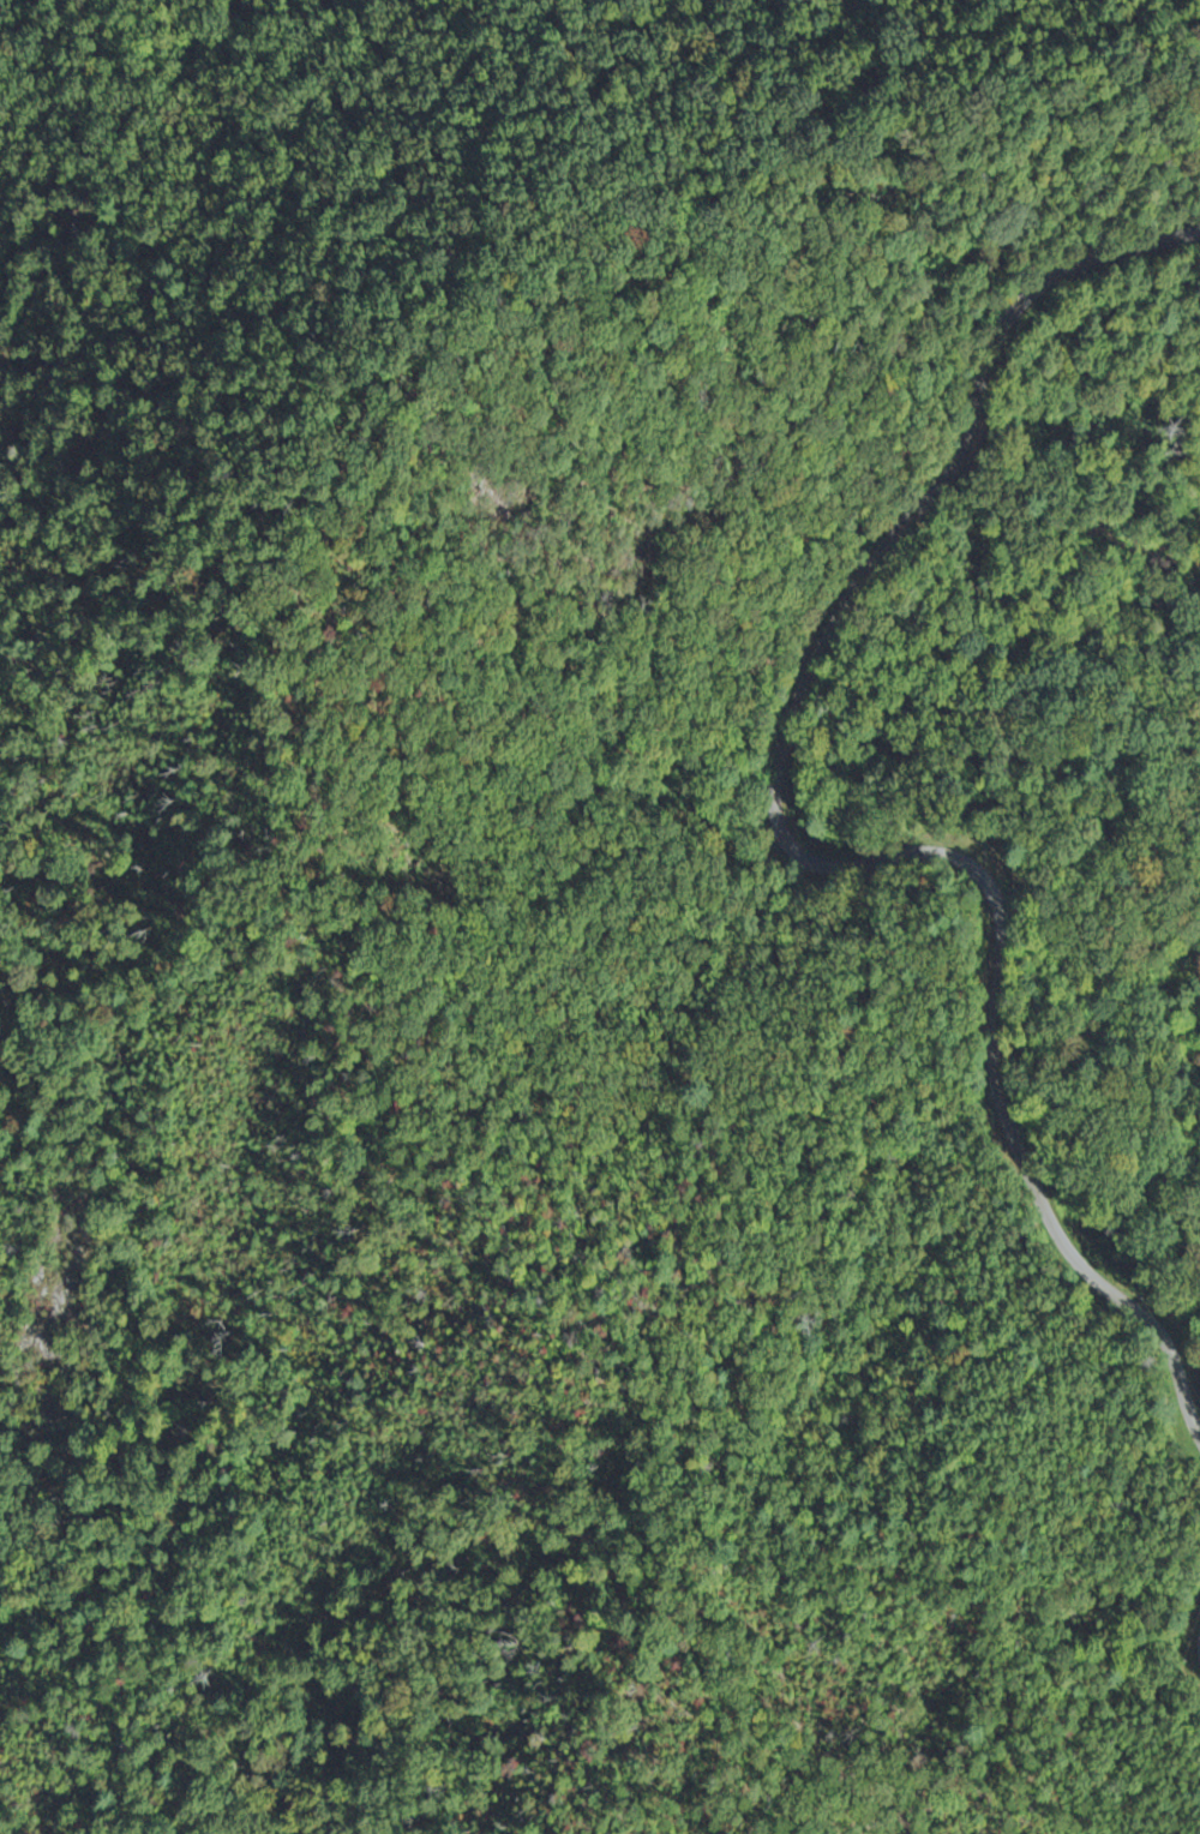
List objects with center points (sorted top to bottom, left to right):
road: (812, 856)

